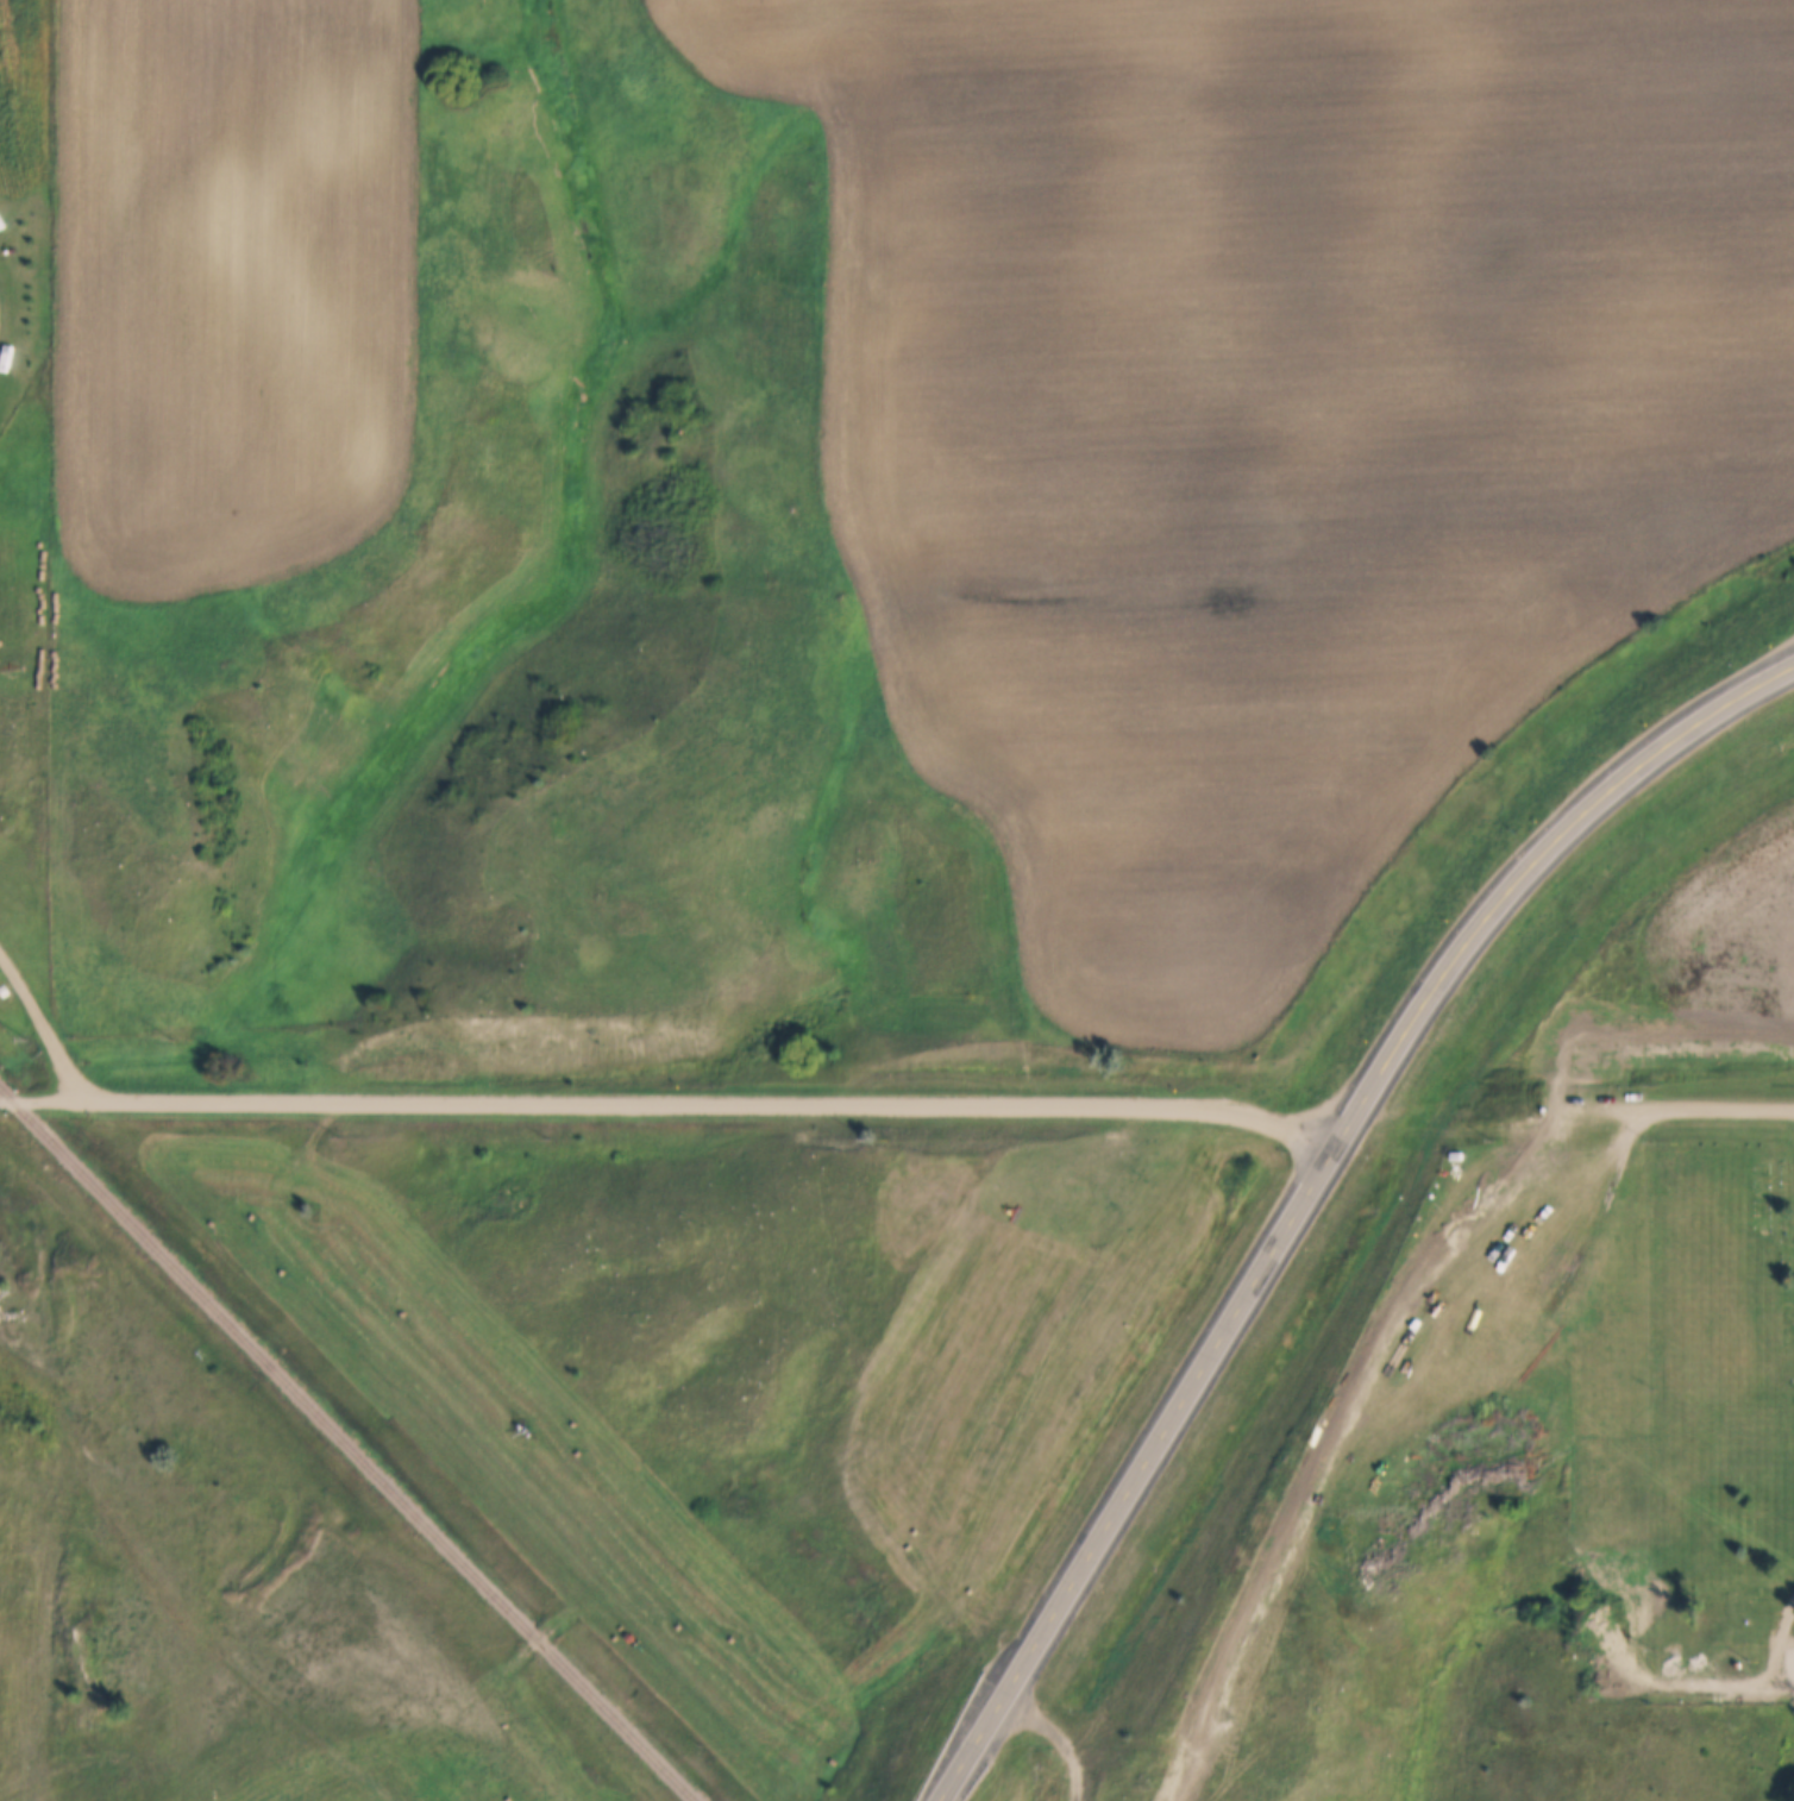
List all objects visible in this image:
road: (5, 337)
road: (44, 1024)
road: (40, 1099)
road: (713, 1105)
road: (1690, 1106)
road: (1313, 1184)
park: (1692, 1411)
railway: (347, 1442)
road: (481, 1458)
road: (544, 1638)
road: (1780, 1646)
road: (1661, 1683)
road: (1059, 1736)

